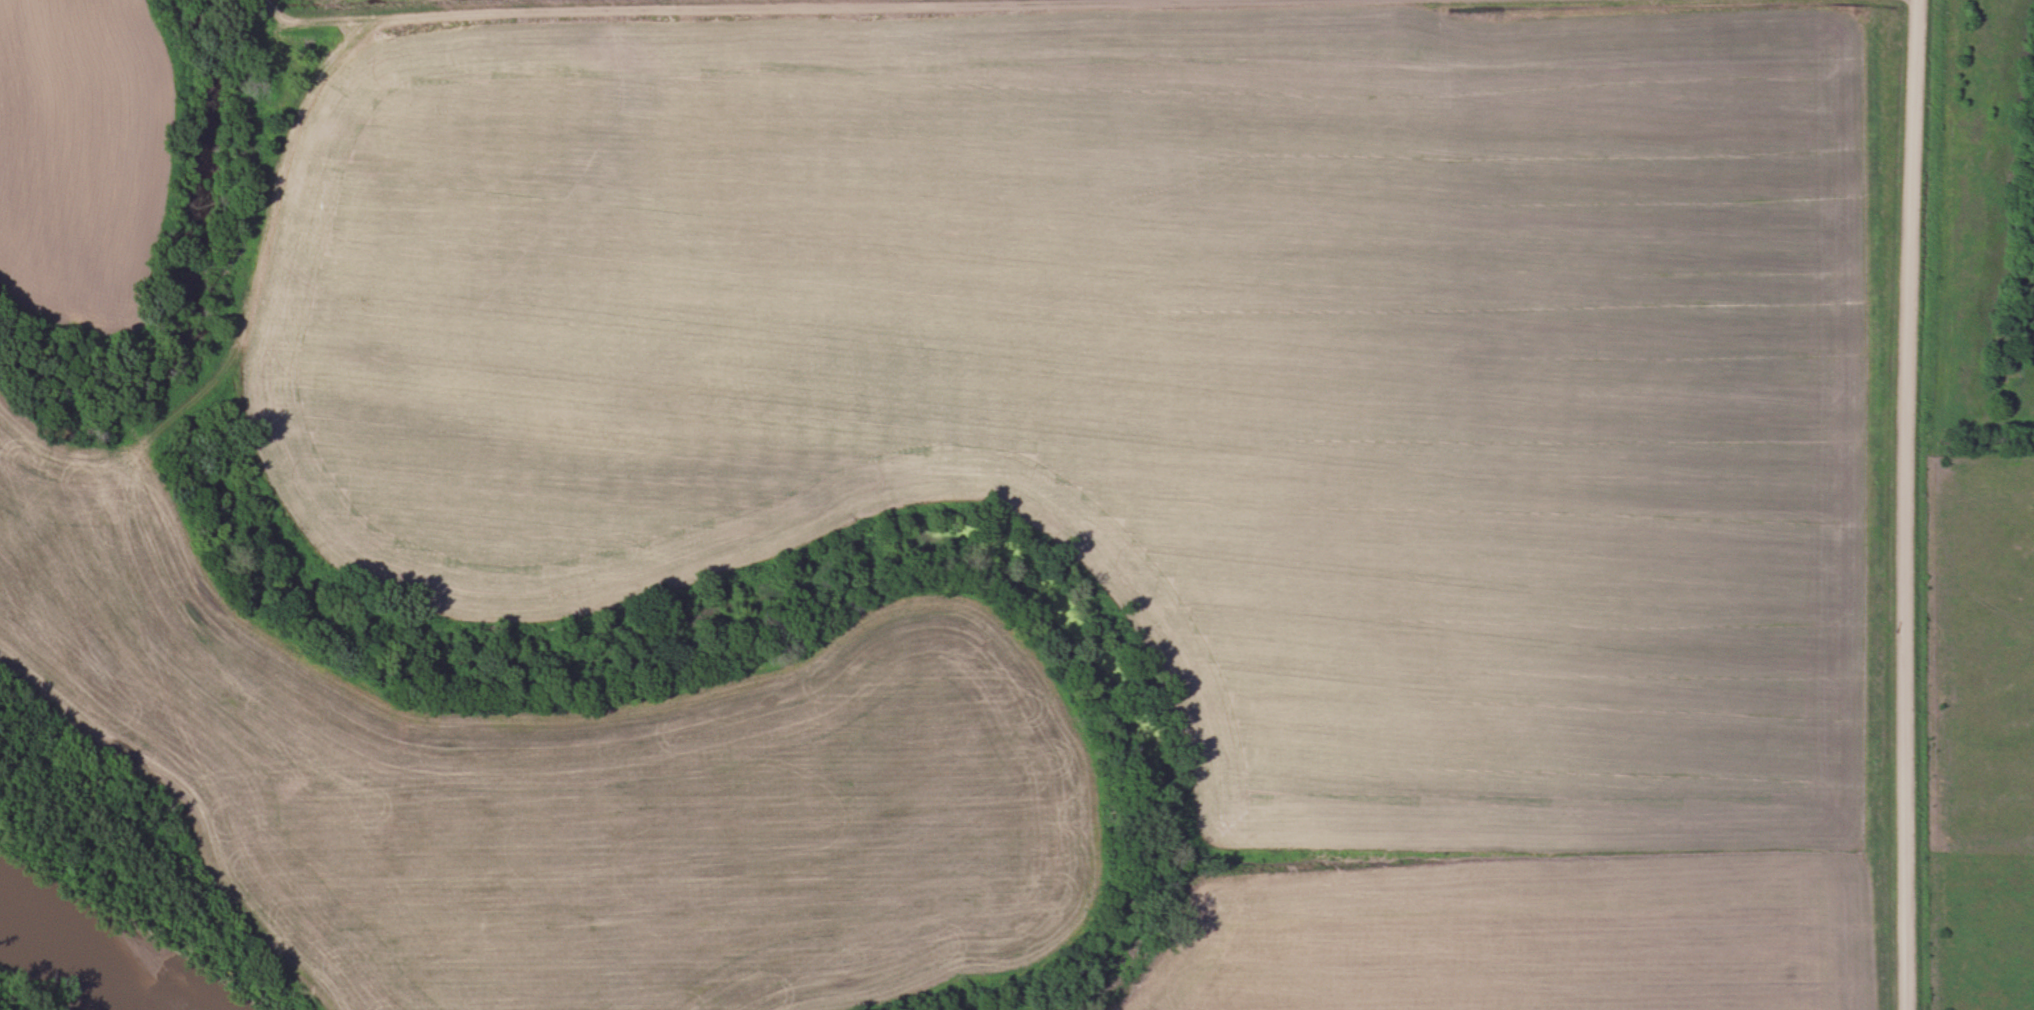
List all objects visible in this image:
road: (632, 10)
road: (1904, 504)
river: (102, 941)

